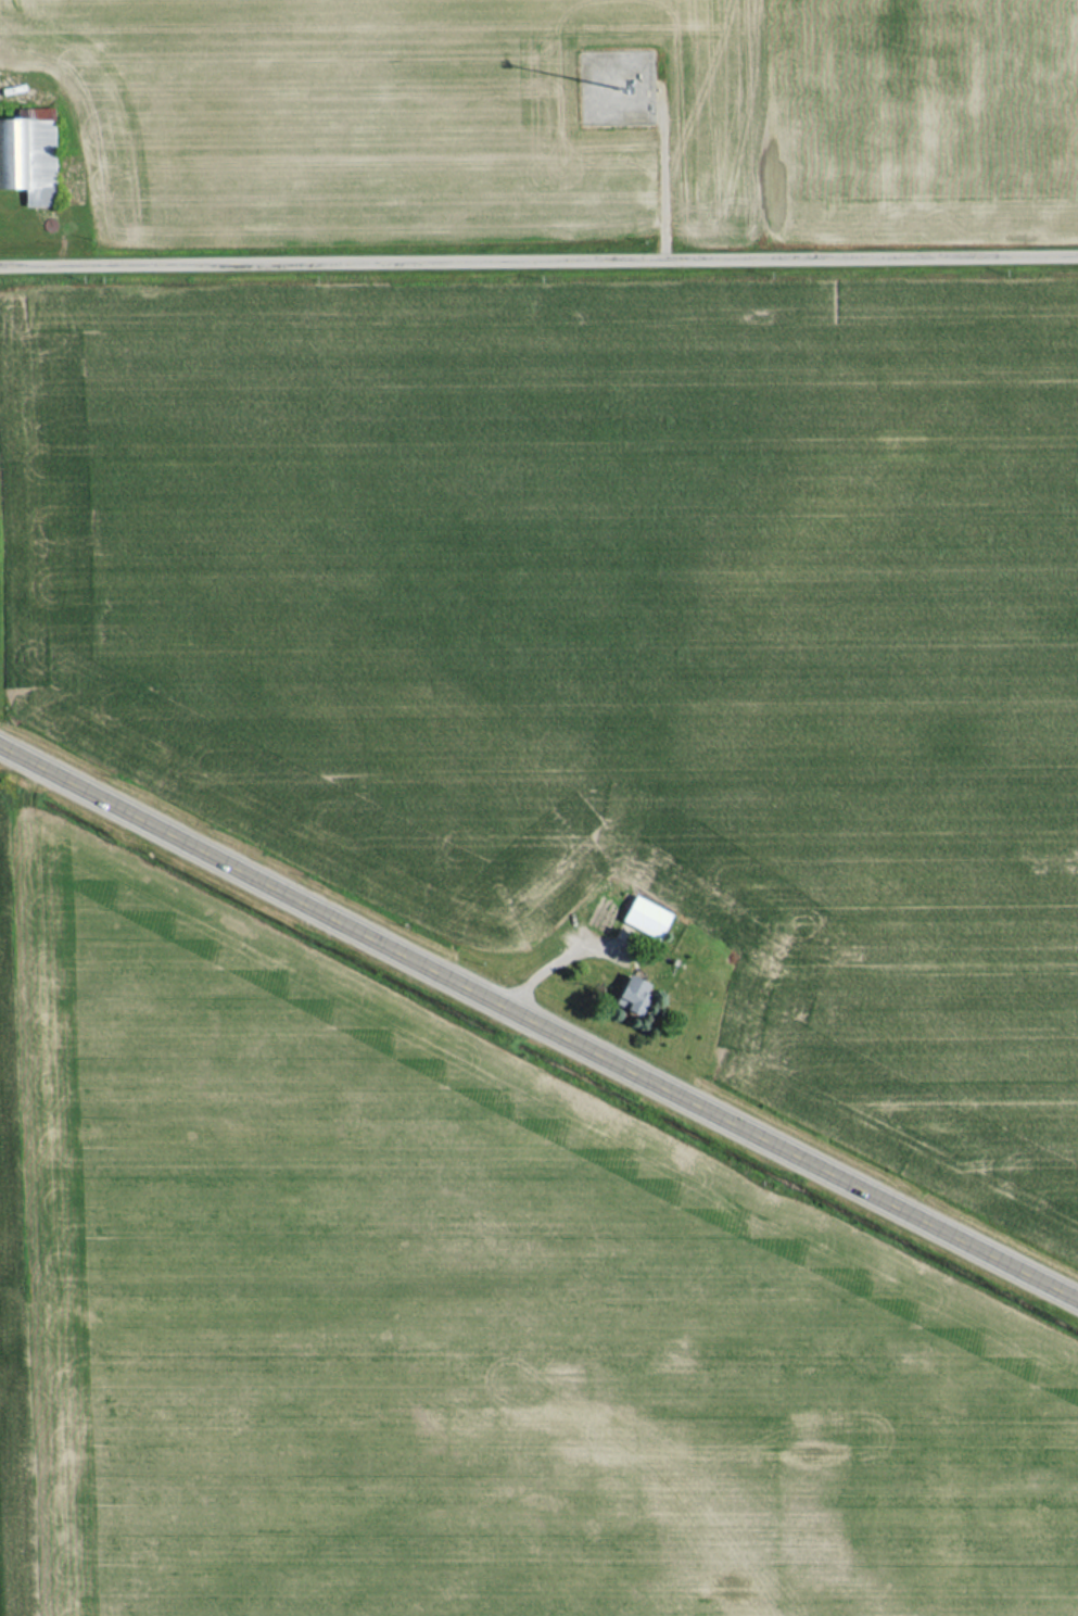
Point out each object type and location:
building: (27, 156)
road: (538, 255)
crop: (614, 641)
building: (644, 918)
building: (632, 996)
road: (538, 1009)
crop: (13, 1293)
crop: (461, 1327)

